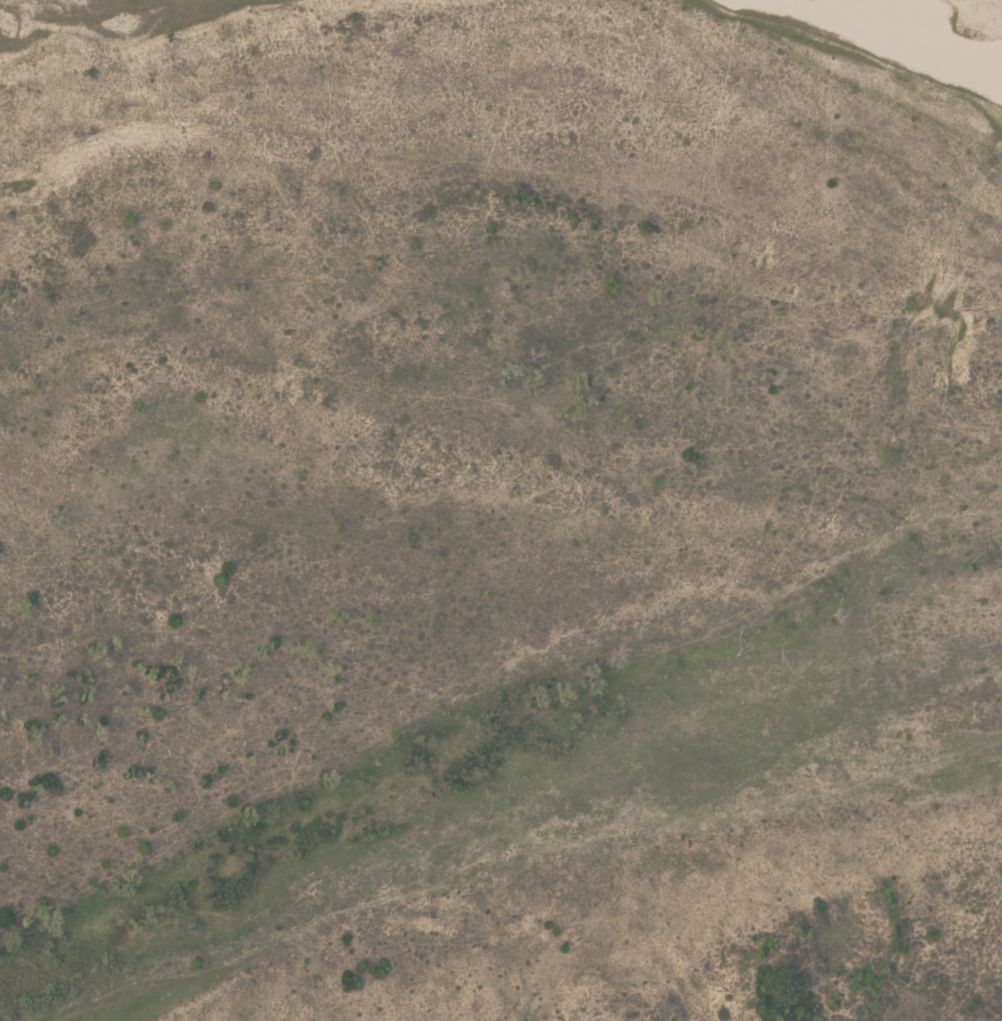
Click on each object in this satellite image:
river: (901, 37)

